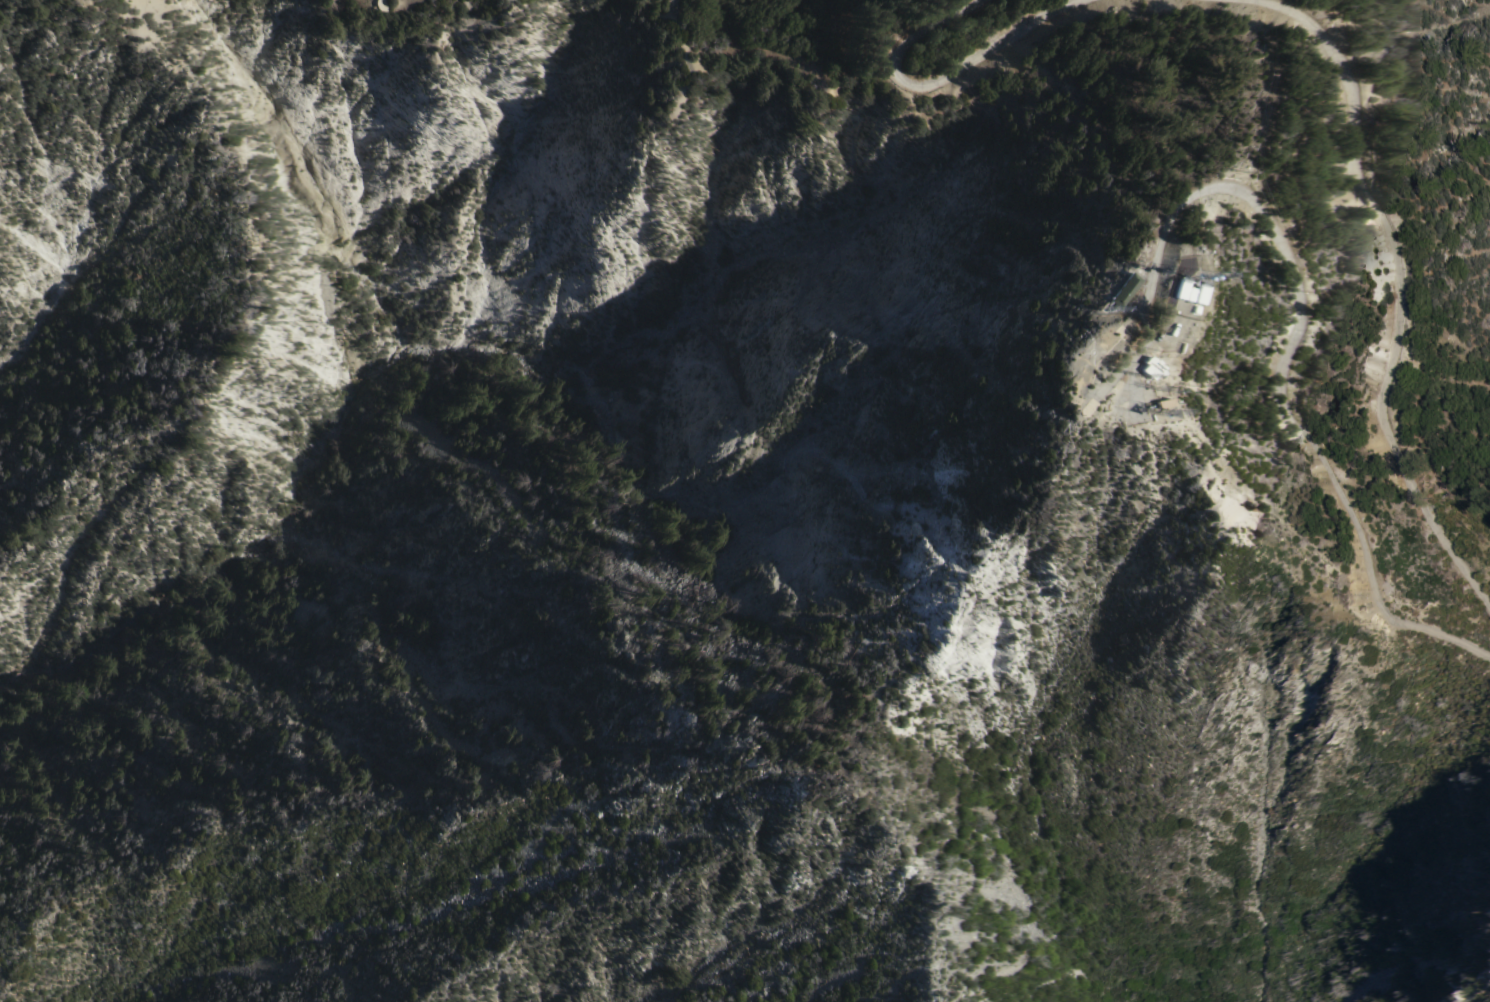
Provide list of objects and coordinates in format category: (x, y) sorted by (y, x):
road: (1365, 22)
road: (1349, 36)
road: (939, 75)
building: (1086, 286)
building: (1149, 287)
building: (1178, 293)
road: (1395, 293)
building: (1123, 294)
building: (1196, 298)
road: (1296, 308)
building: (1177, 342)
helipad: (1088, 357)
building: (1150, 372)
building: (1165, 412)

